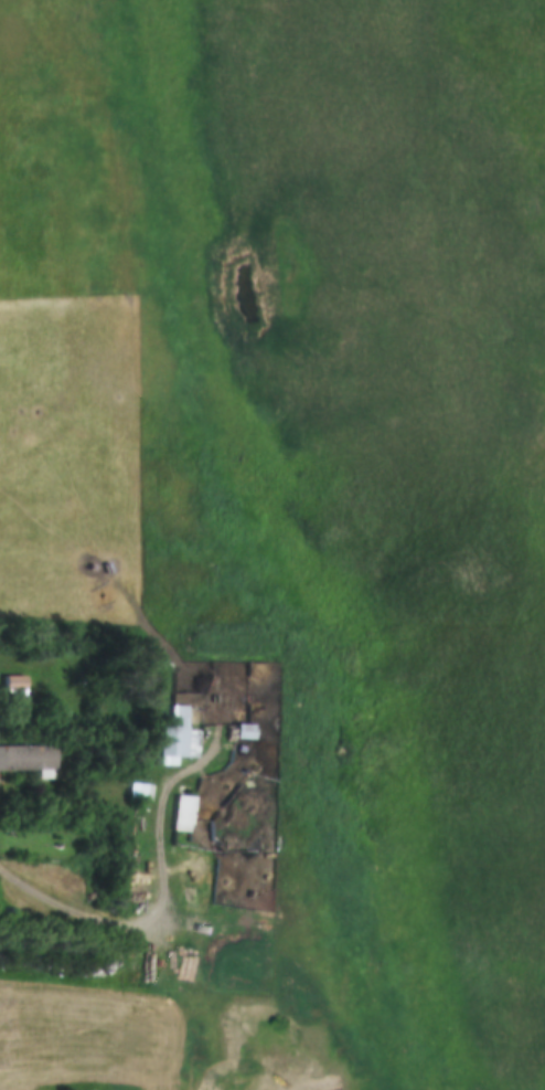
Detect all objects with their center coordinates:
building: (250, 730)
building: (185, 736)
building: (32, 758)
building: (147, 791)
building: (190, 812)
building: (203, 853)
road: (162, 902)

